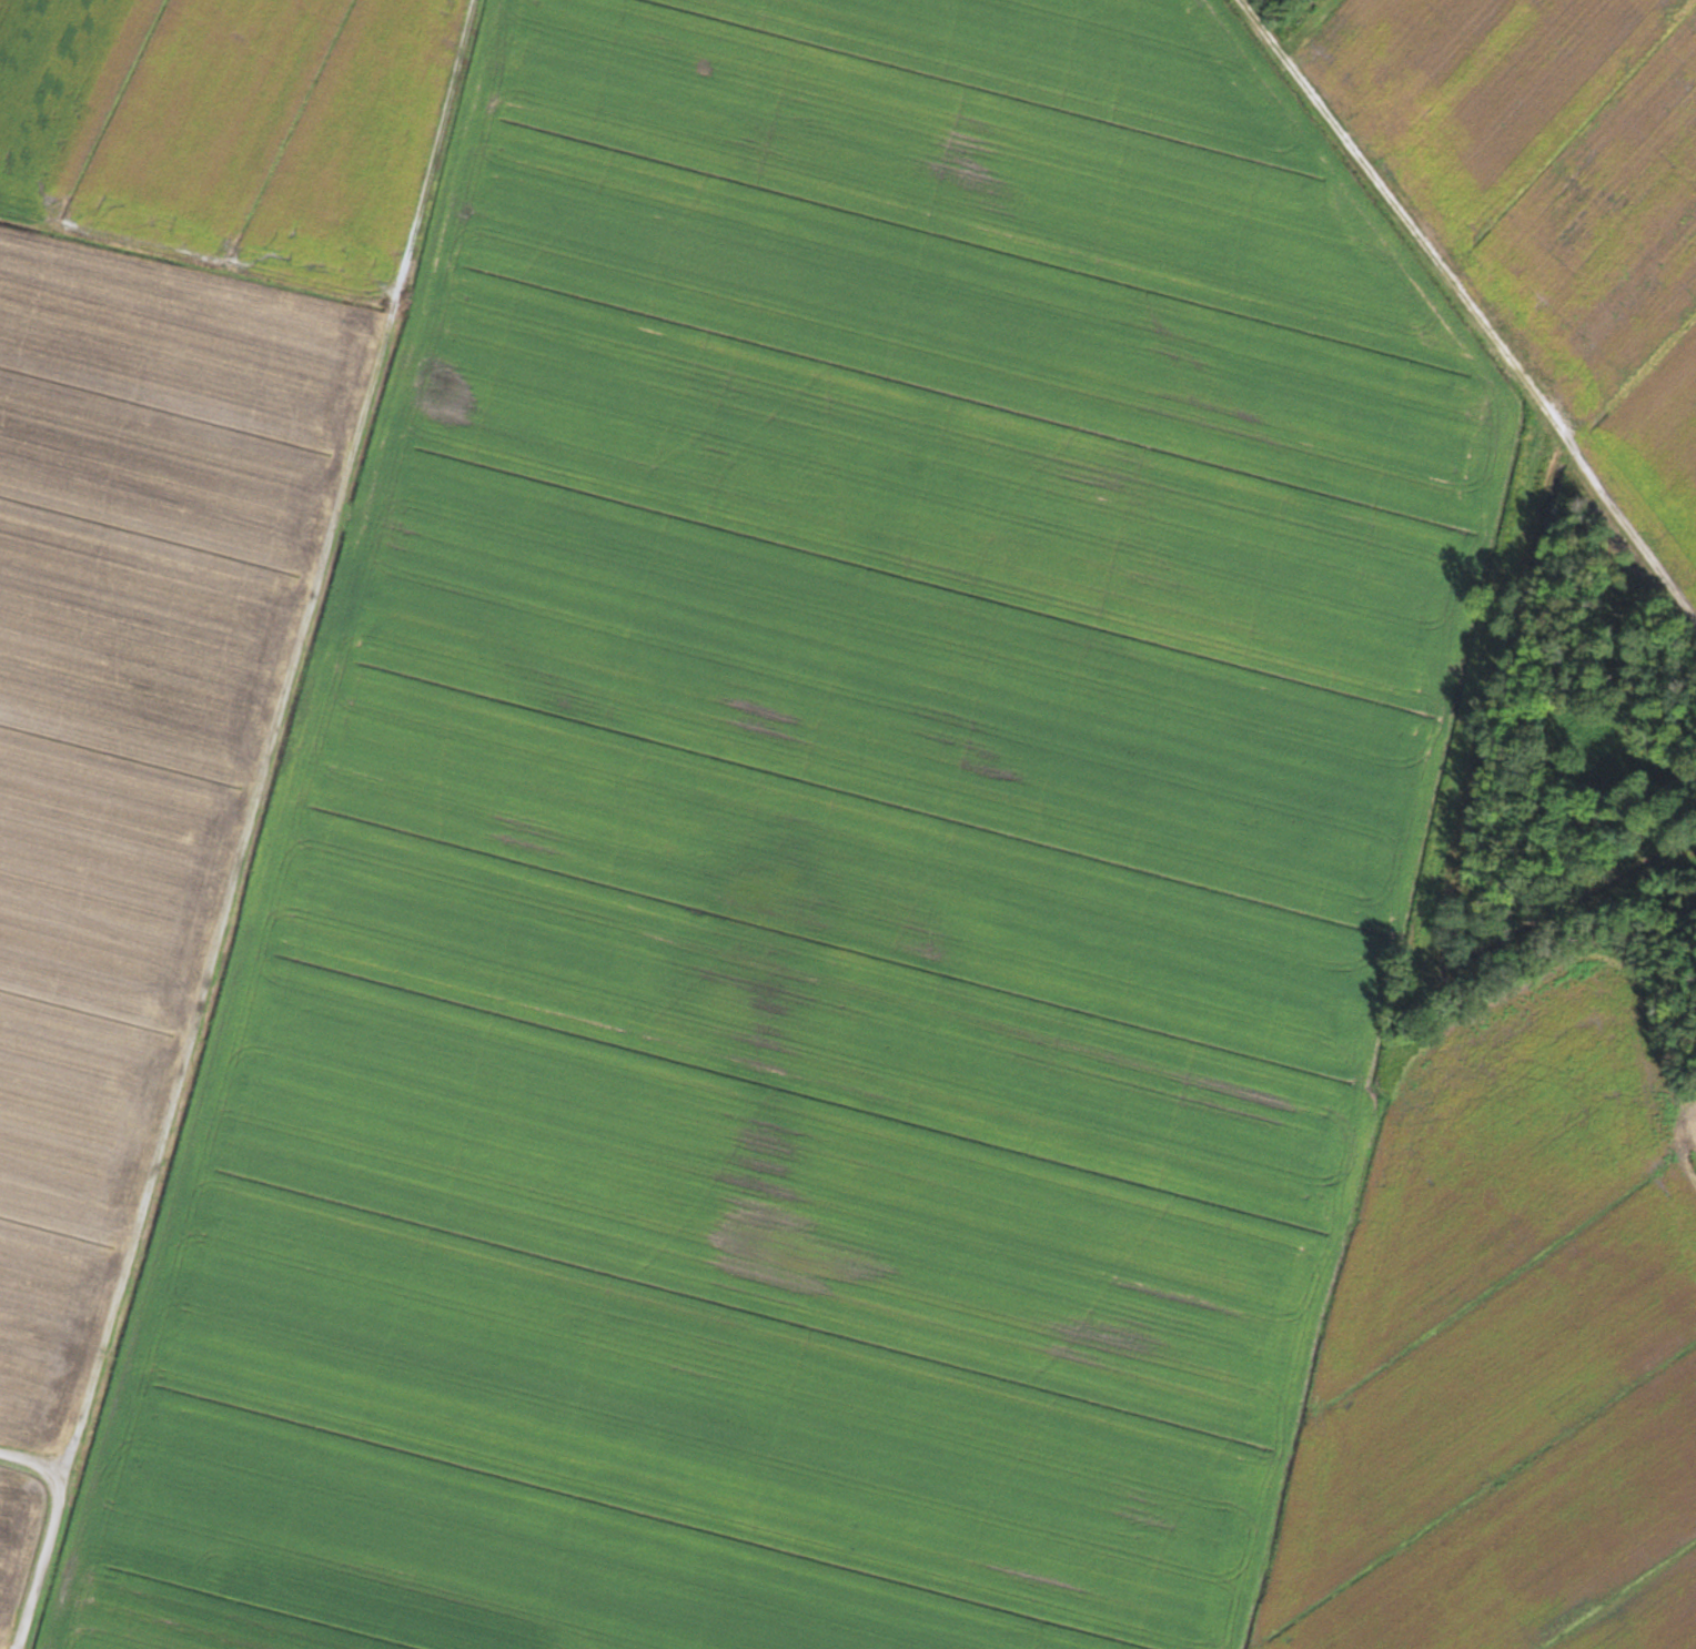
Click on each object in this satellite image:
road: (1443, 276)
road: (1672, 586)
road: (49, 1531)

